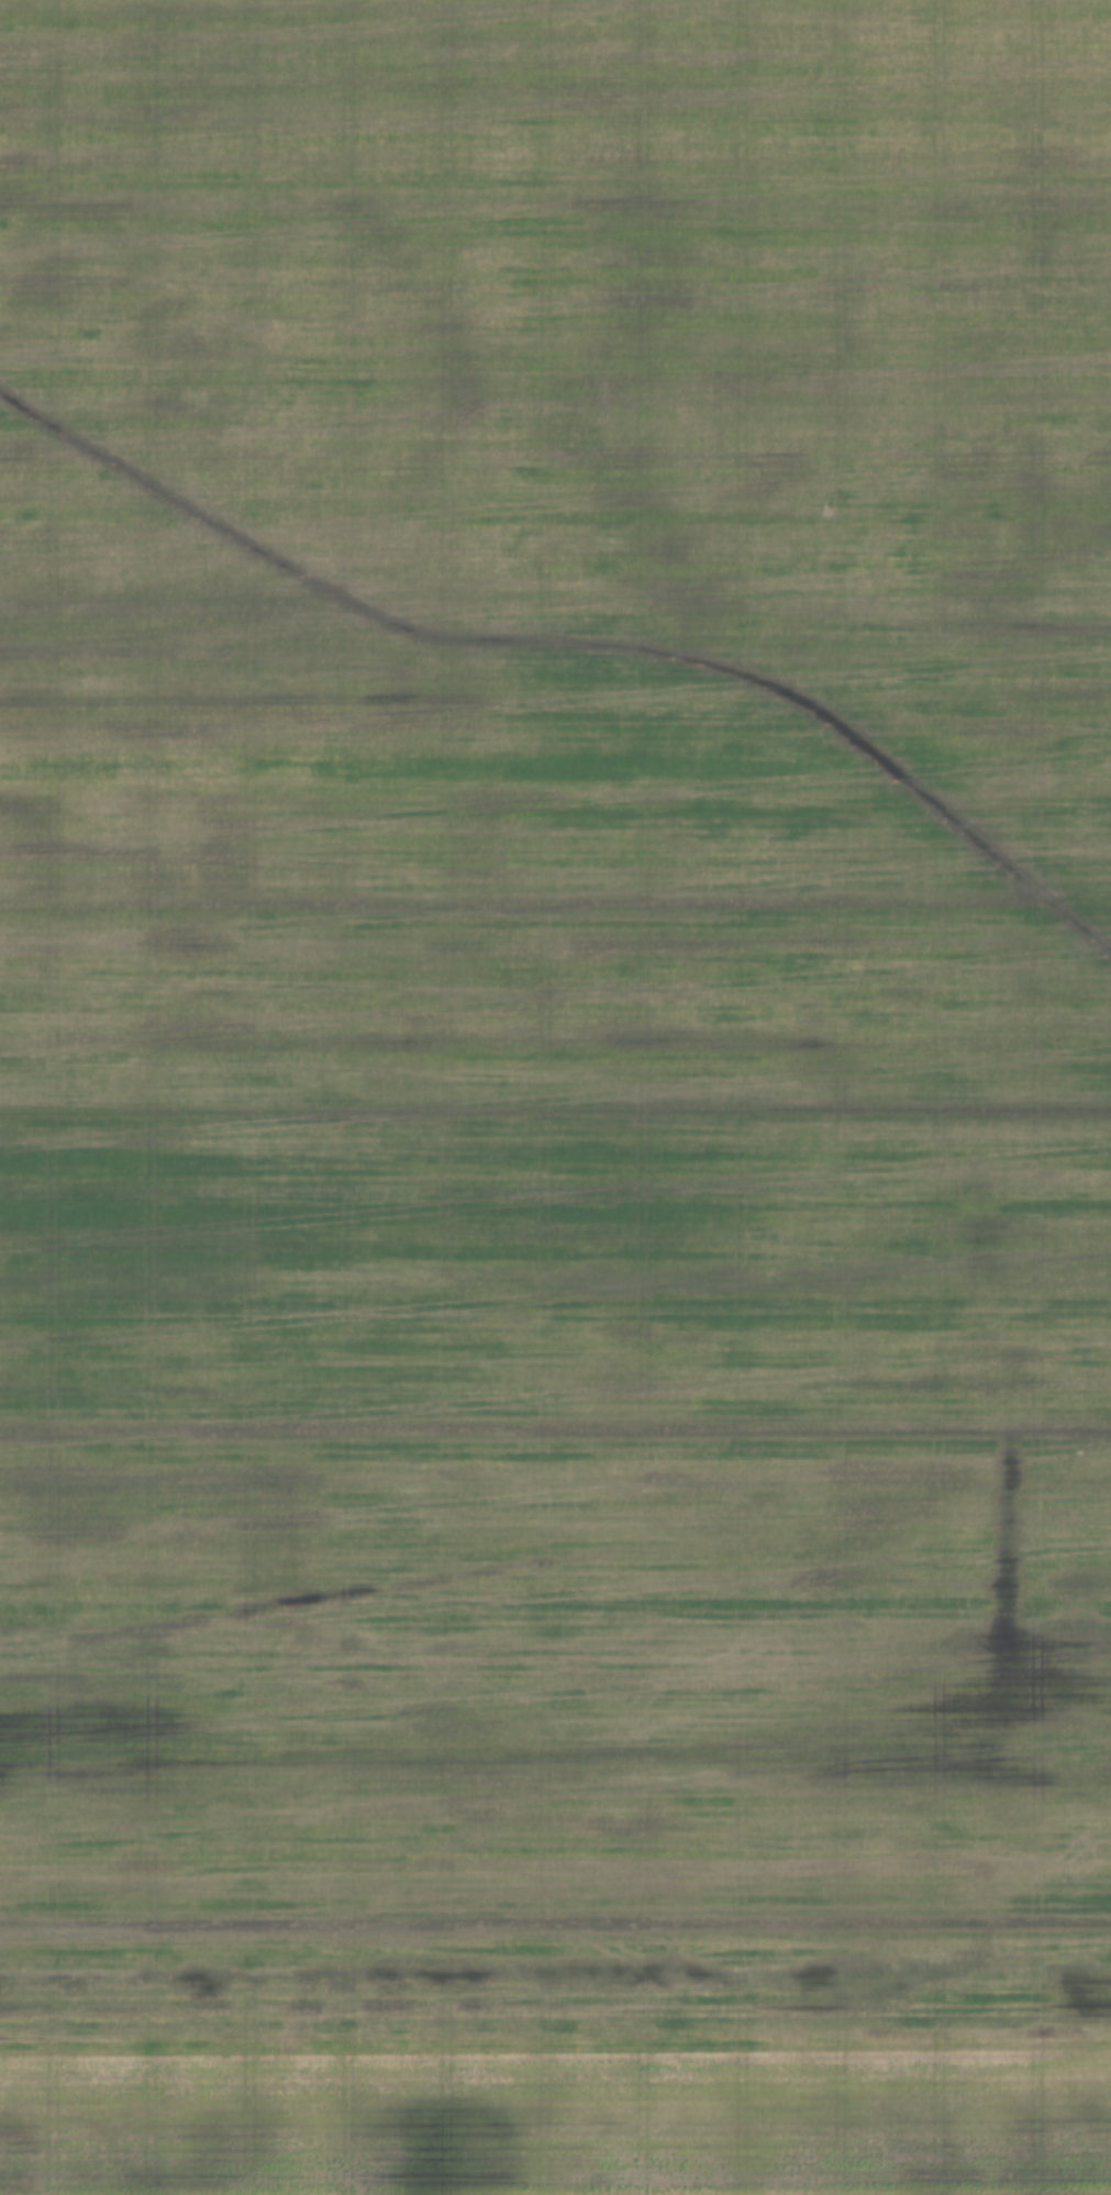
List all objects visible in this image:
crop: (555, 1097)

